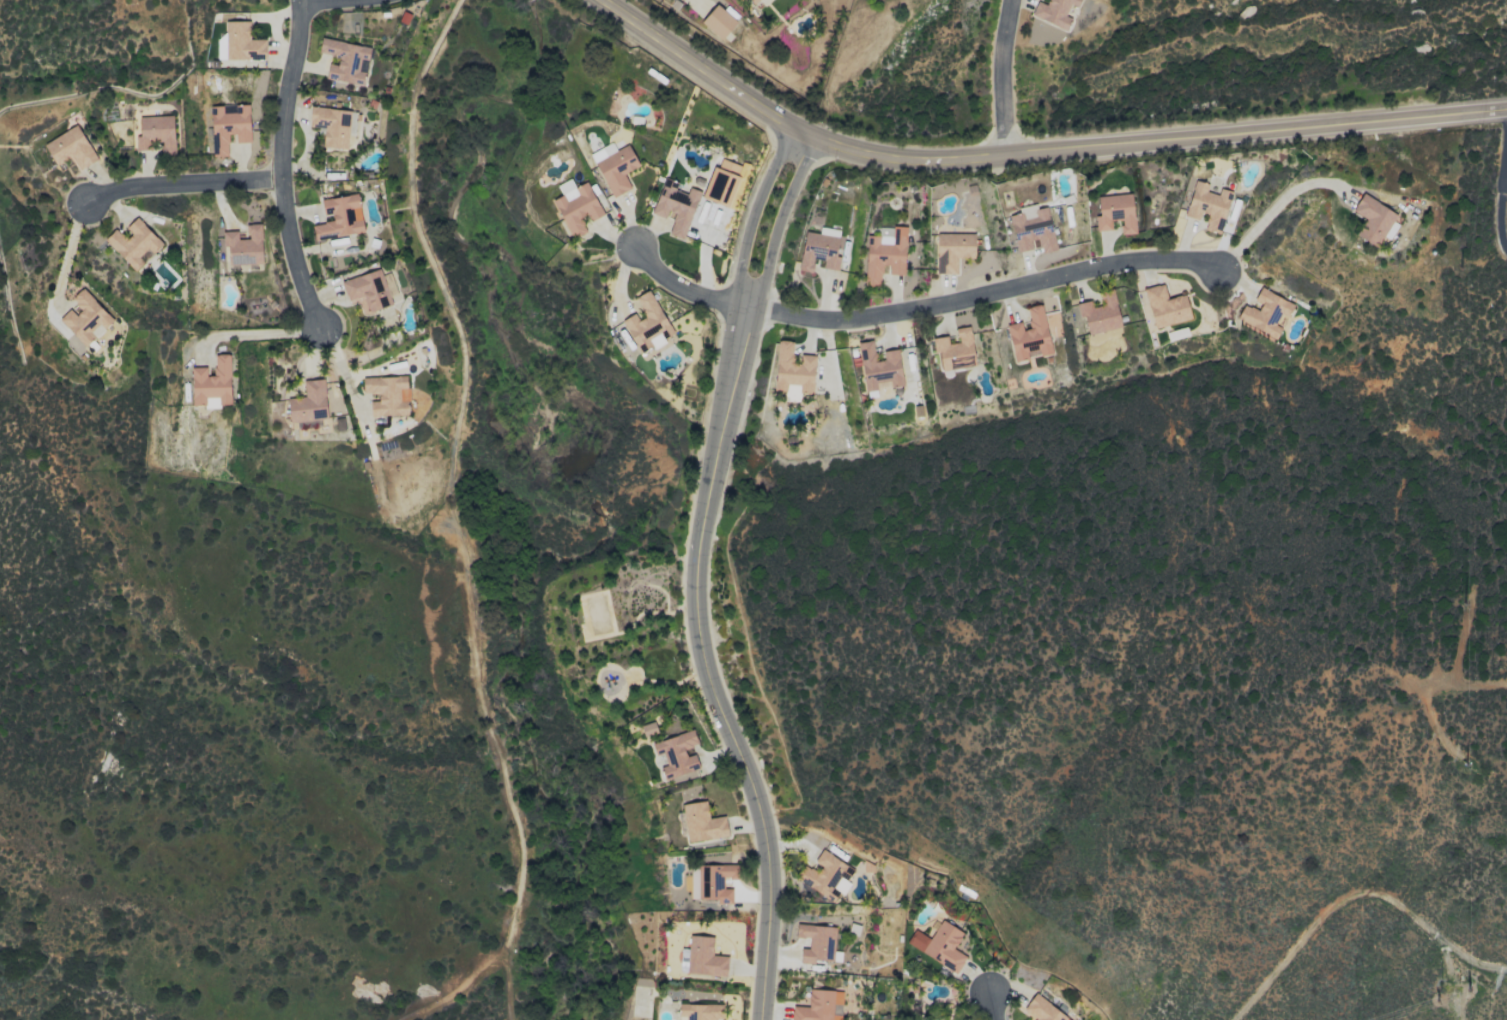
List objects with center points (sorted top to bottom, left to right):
building: (753, 1)
building: (1073, 1)
road: (318, 2)
building: (718, 21)
building: (238, 43)
building: (345, 60)
road: (704, 69)
road: (1004, 77)
building: (333, 125)
building: (228, 126)
building: (155, 133)
road: (1154, 142)
building: (70, 148)
road: (284, 164)
building: (614, 166)
building: (721, 182)
road: (184, 185)
road: (1499, 197)
building: (1207, 205)
building: (575, 206)
building: (675, 206)
road: (1272, 210)
building: (1115, 212)
building: (339, 217)
building: (1374, 220)
building: (1033, 231)
building: (133, 243)
building: (243, 246)
road: (61, 247)
building: (819, 249)
building: (952, 250)
building: (884, 253)
building: (366, 291)
building: (1165, 306)
road: (921, 309)
building: (1100, 313)
building: (1265, 313)
building: (85, 317)
building: (647, 324)
road: (261, 332)
building: (1033, 333)
building: (955, 350)
building: (878, 367)
building: (793, 371)
road: (341, 373)
building: (211, 384)
building: (386, 395)
building: (308, 402)
building: (339, 422)
road: (450, 502)
road: (693, 575)
park: (640, 667)
road: (1467, 685)
building: (648, 729)
building: (676, 753)
building: (701, 822)
building: (826, 876)
road: (1352, 893)
building: (817, 943)
building: (939, 945)
building: (702, 957)
road: (1454, 984)
building: (819, 1006)
road: (994, 1007)
building: (1043, 1010)
building: (699, 1011)

